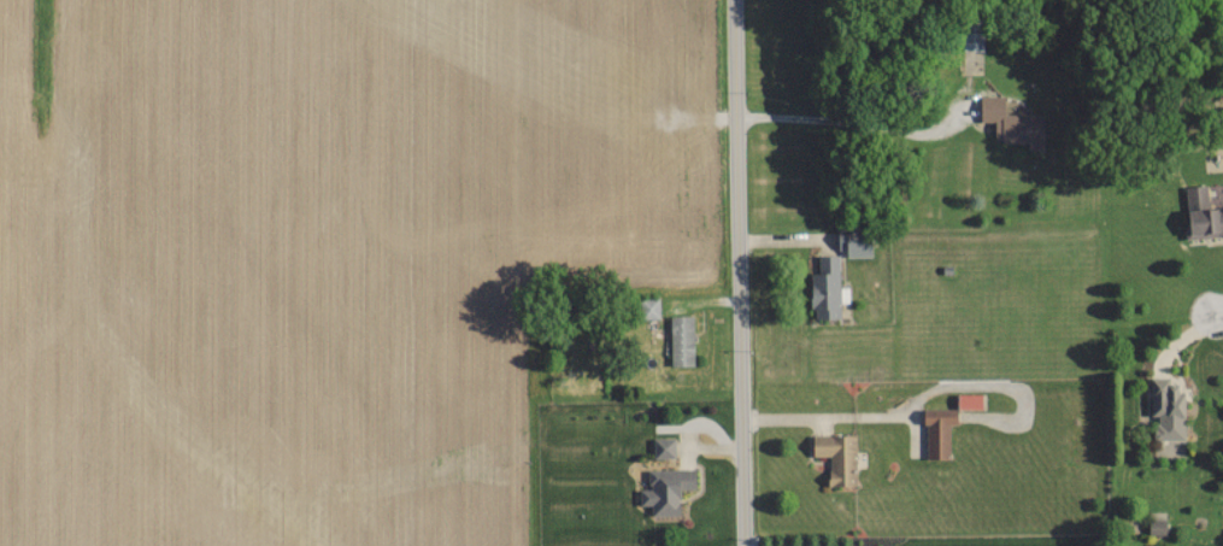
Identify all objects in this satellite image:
road: (854, 119)
building: (1011, 122)
building: (1201, 213)
building: (852, 240)
road: (741, 272)
building: (825, 288)
building: (647, 306)
road: (1217, 311)
building: (680, 339)
building: (966, 400)
building: (1165, 407)
road: (830, 429)
building: (936, 431)
building: (662, 446)
building: (835, 456)
building: (664, 488)
building: (1156, 526)

